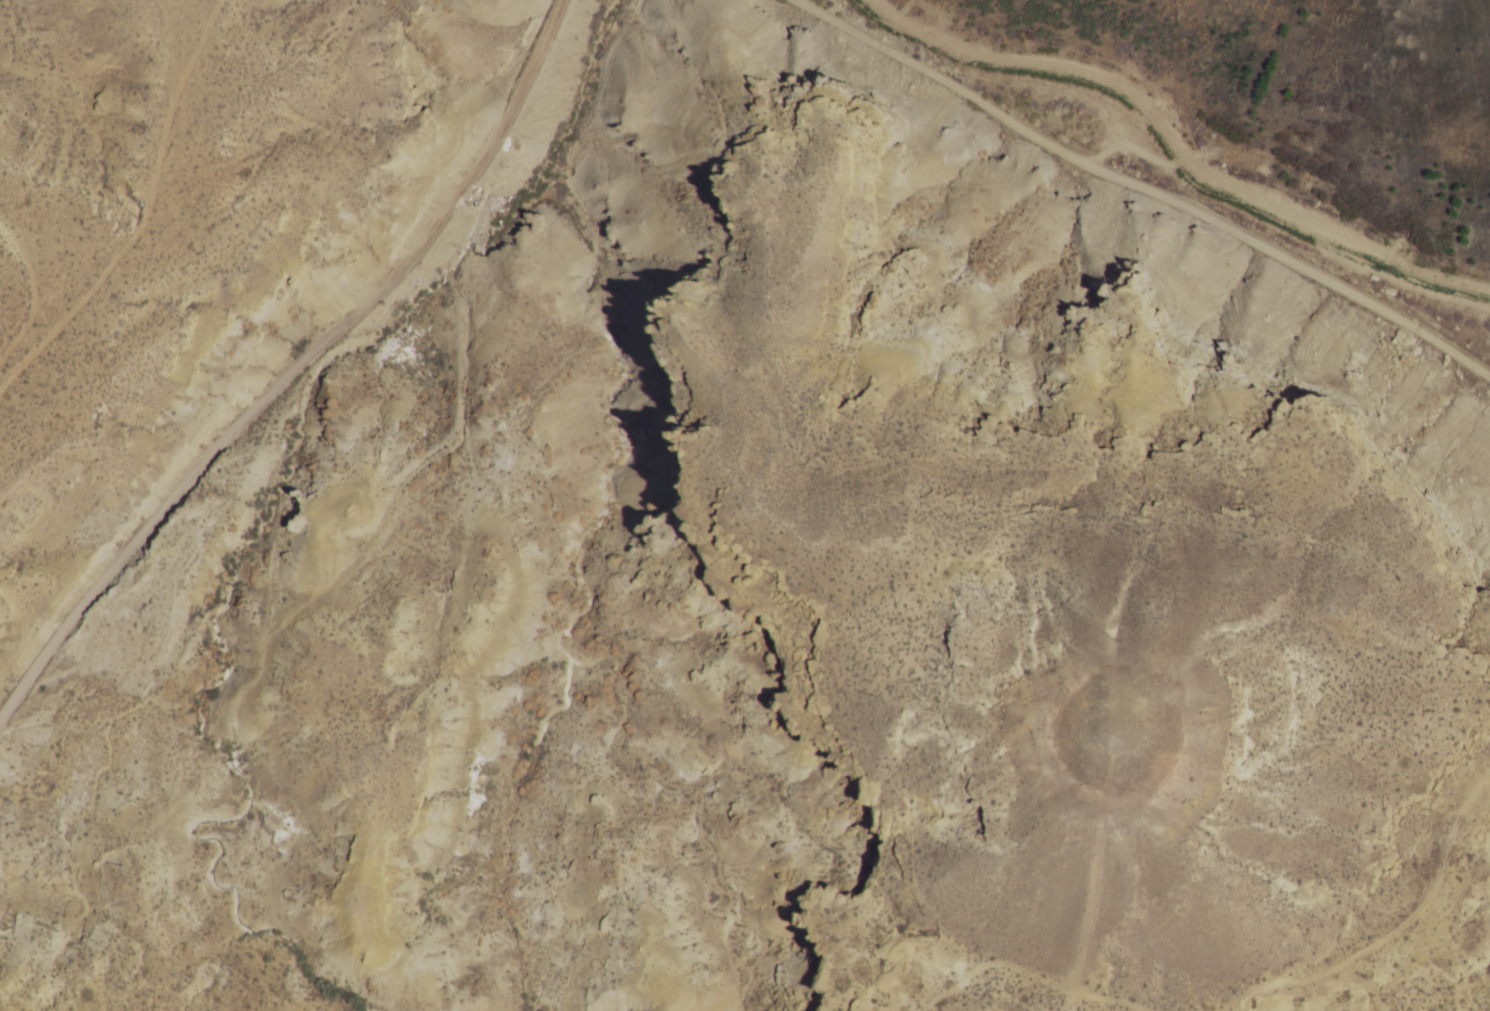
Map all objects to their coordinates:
road: (1144, 189)
road: (291, 374)

